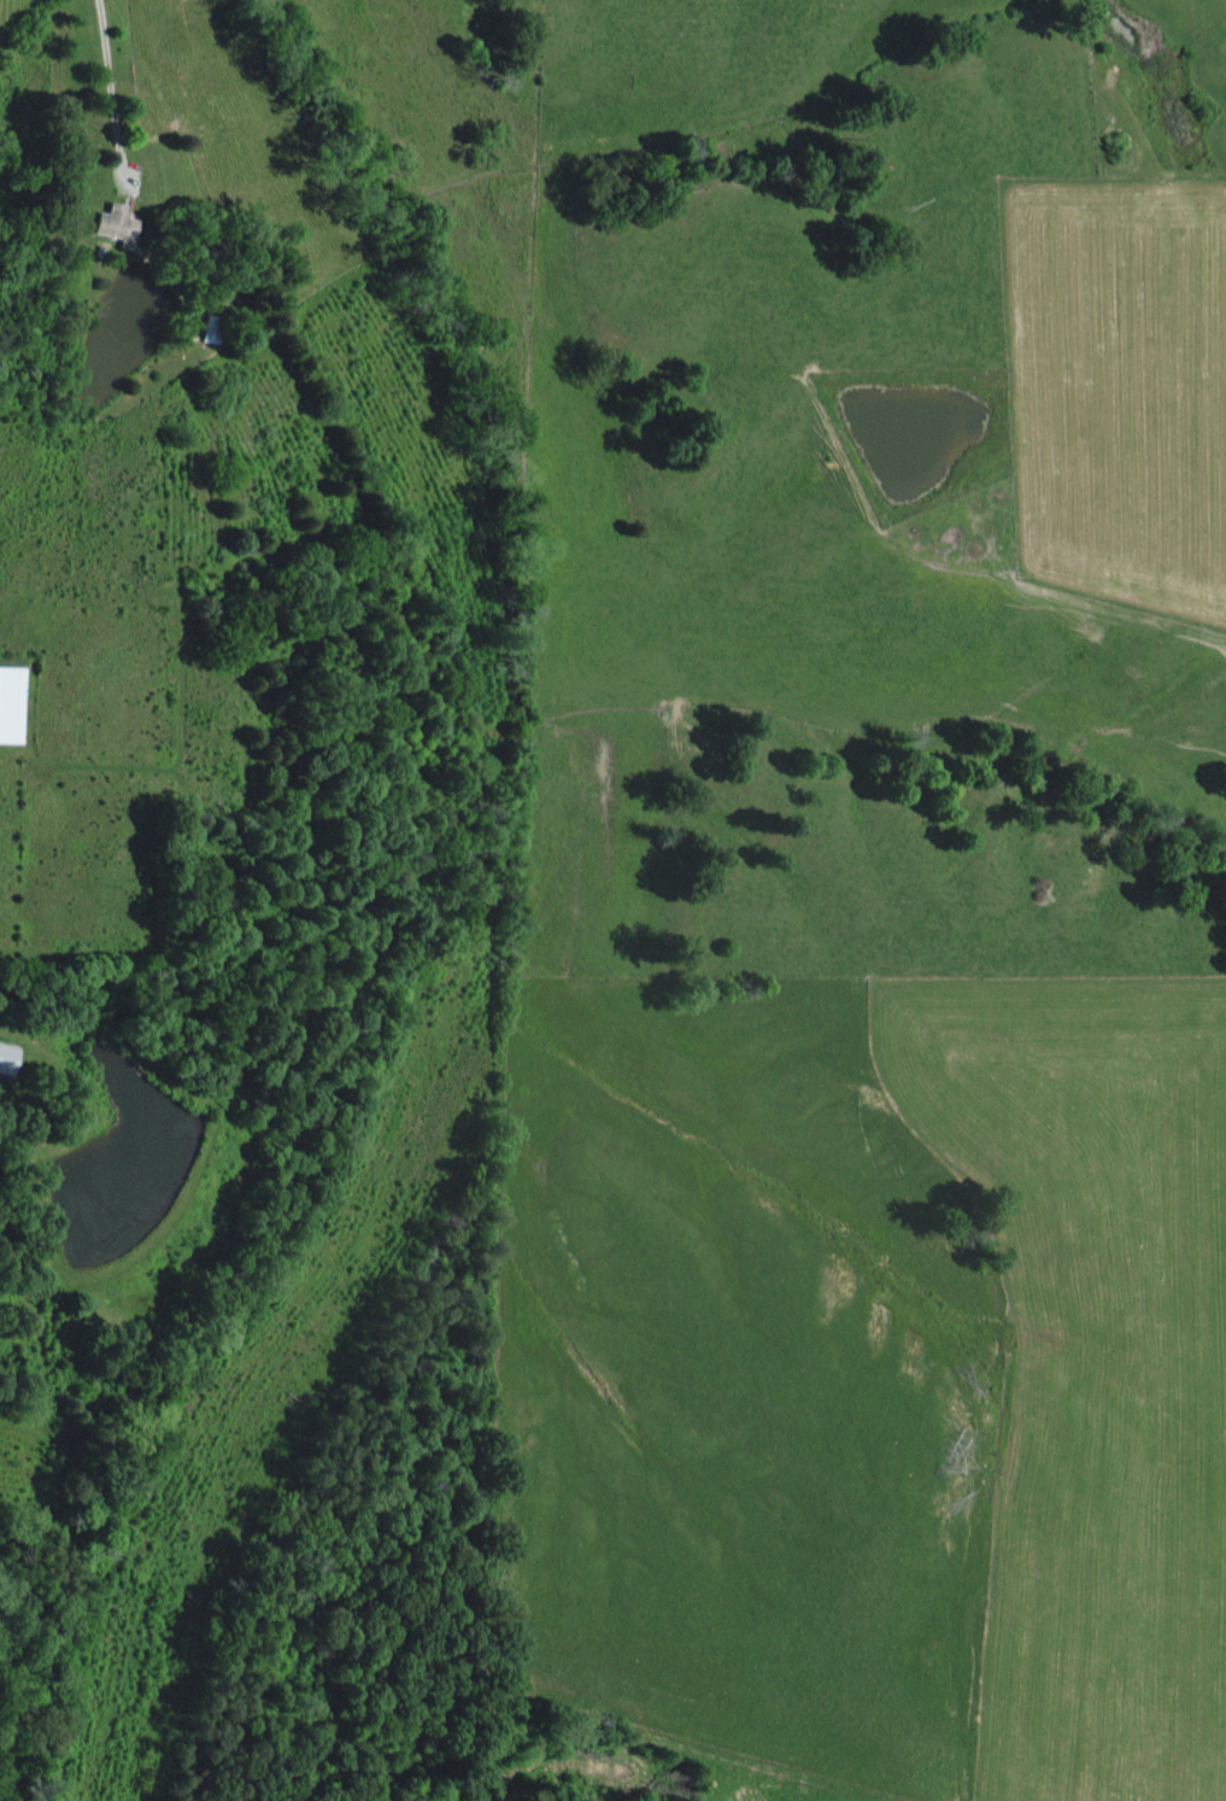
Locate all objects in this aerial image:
building: (111, 222)
building: (10, 702)
building: (4, 1056)

